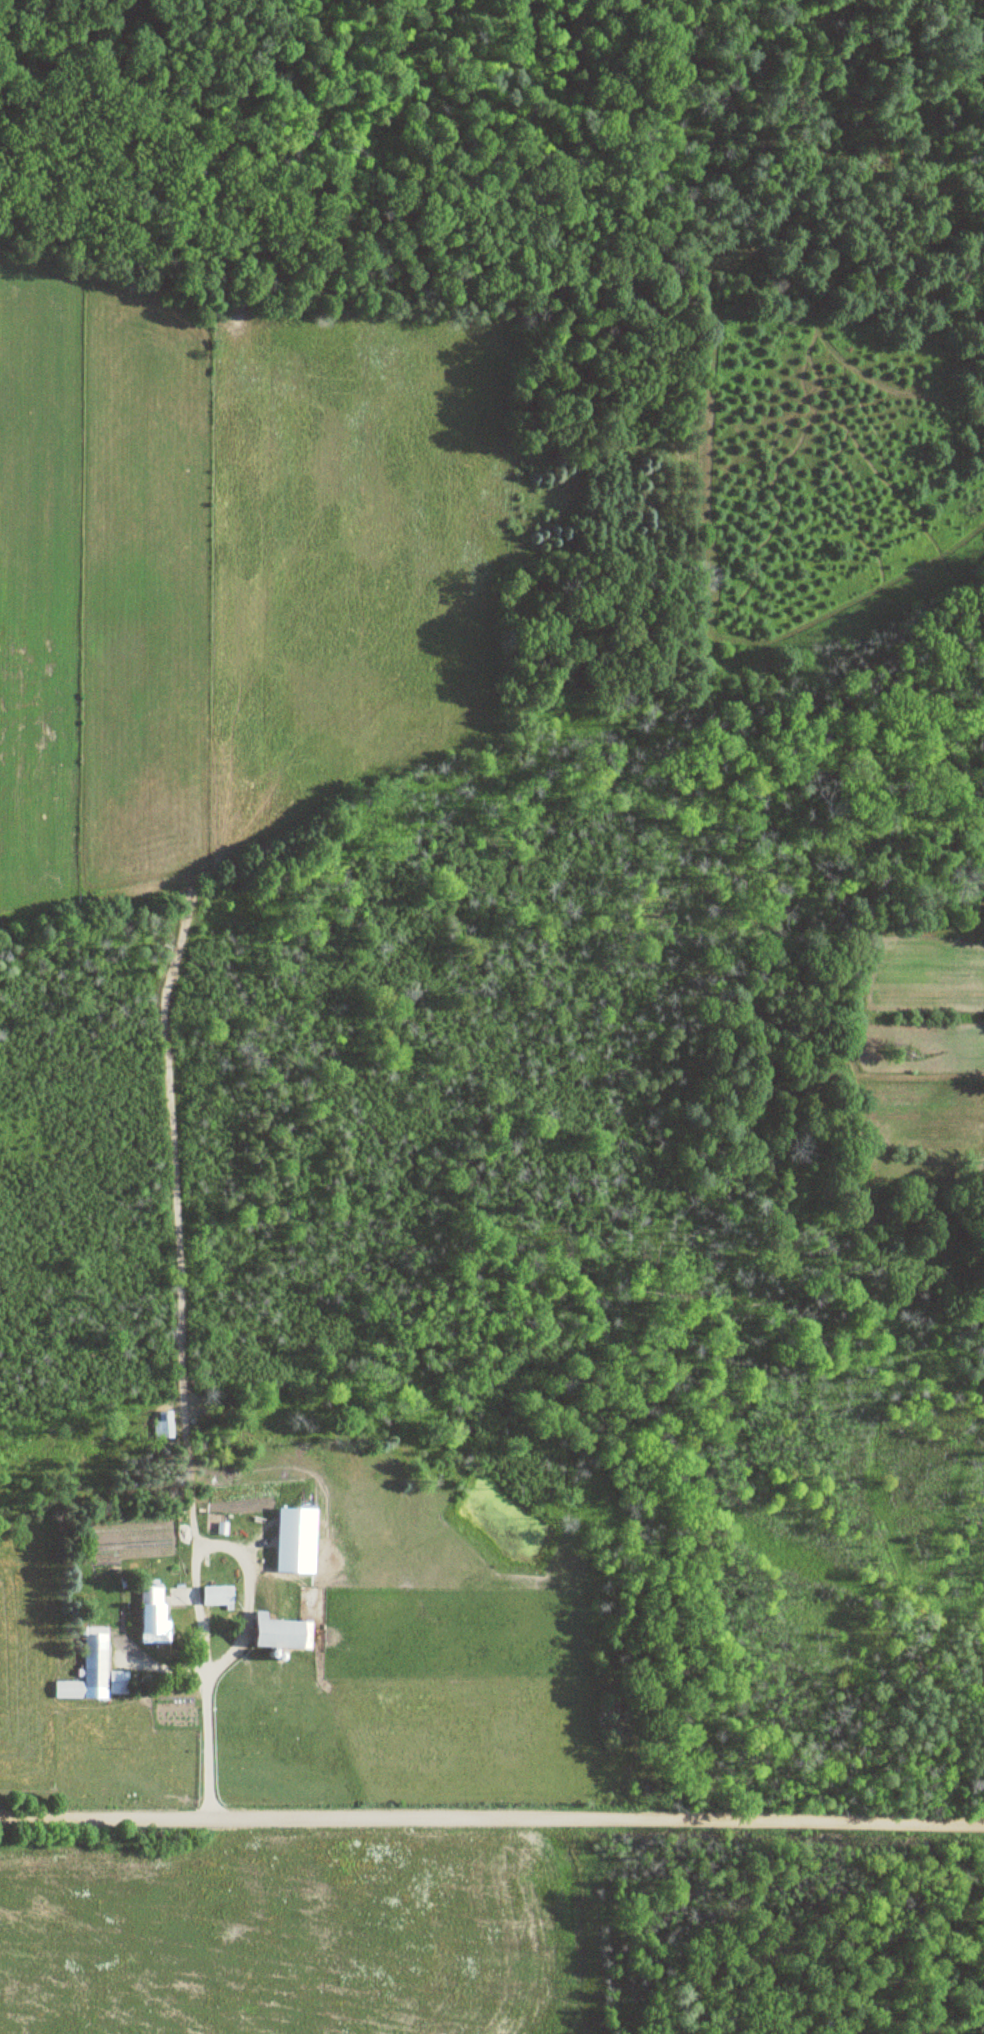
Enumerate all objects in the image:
building: (163, 1424)
building: (219, 1595)
road: (245, 1600)
building: (155, 1609)
building: (285, 1632)
building: (97, 1663)
road: (492, 1821)

